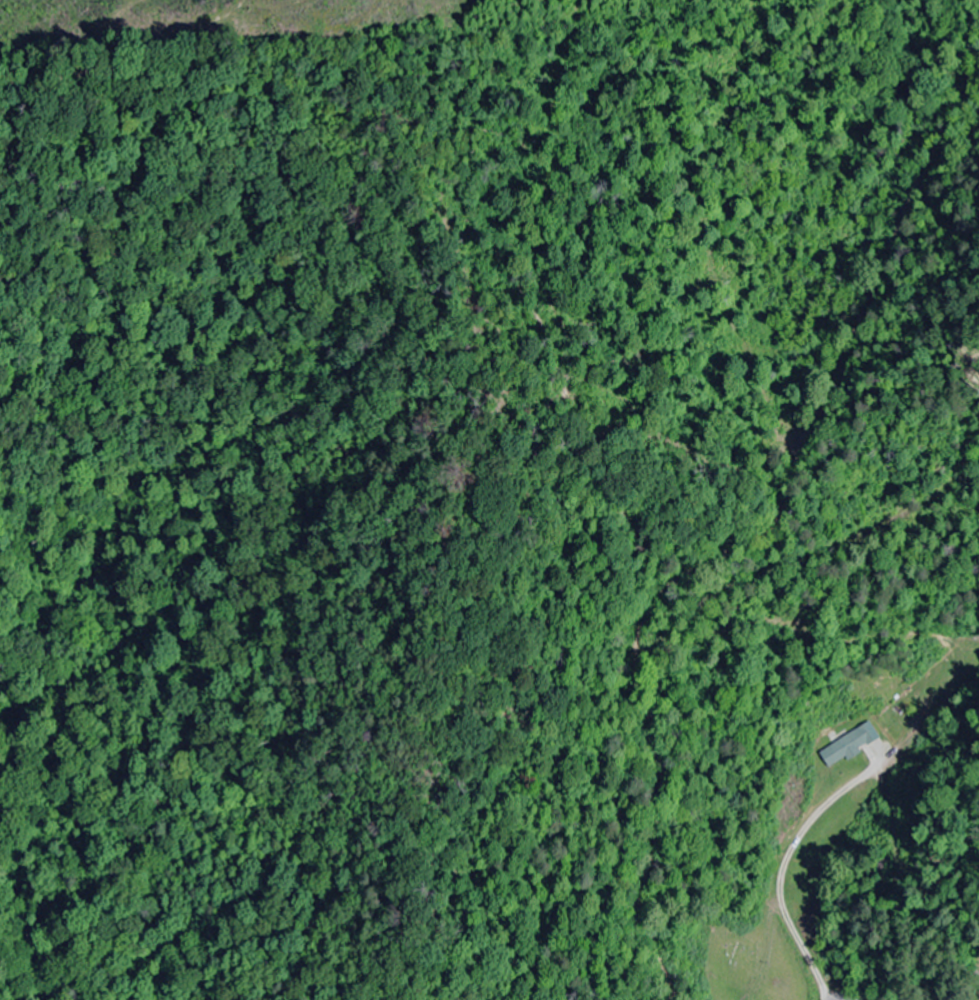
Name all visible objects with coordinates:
road: (744, 562)
building: (849, 745)

